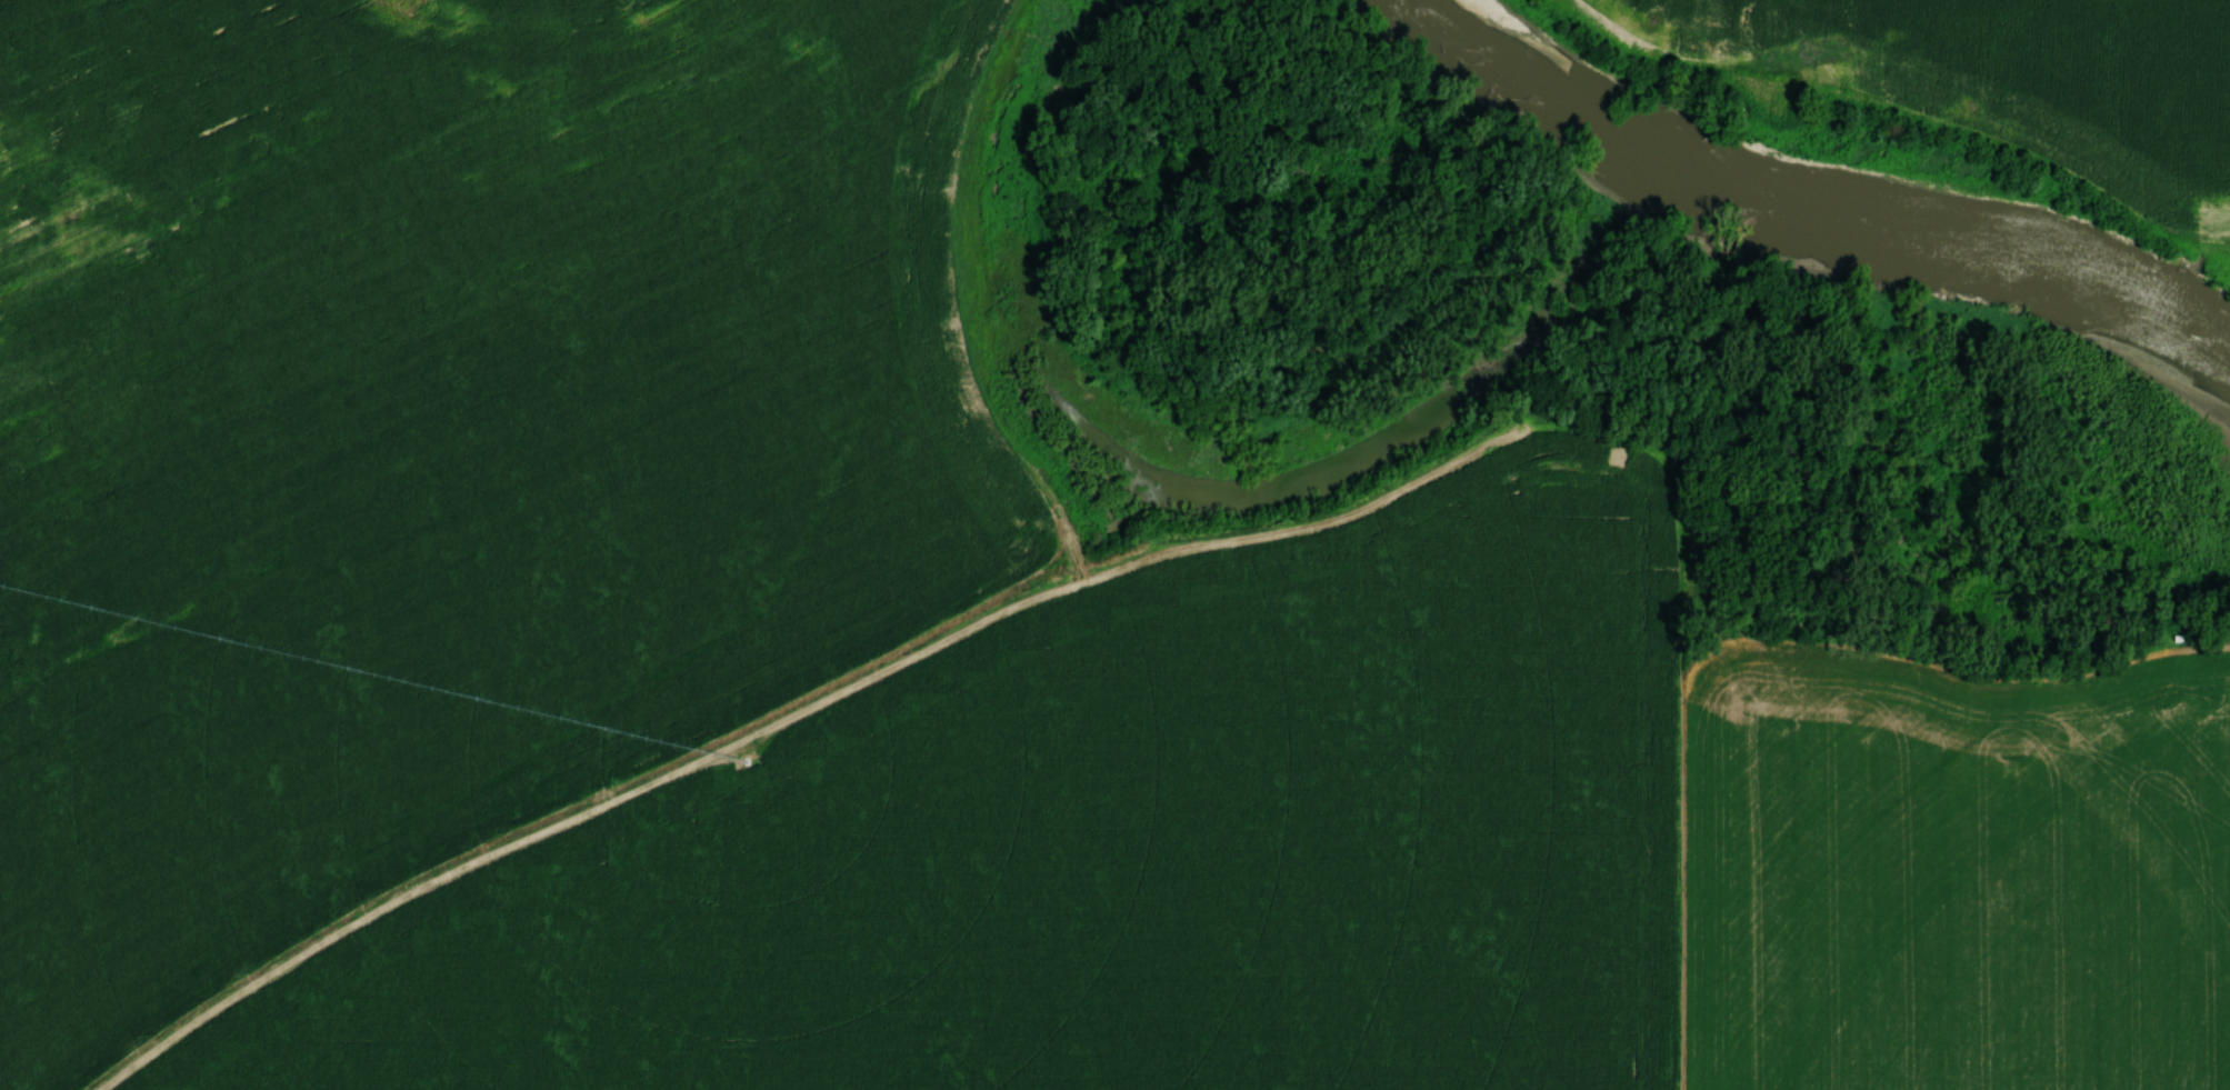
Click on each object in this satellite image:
river: (1840, 217)
road: (844, 686)

